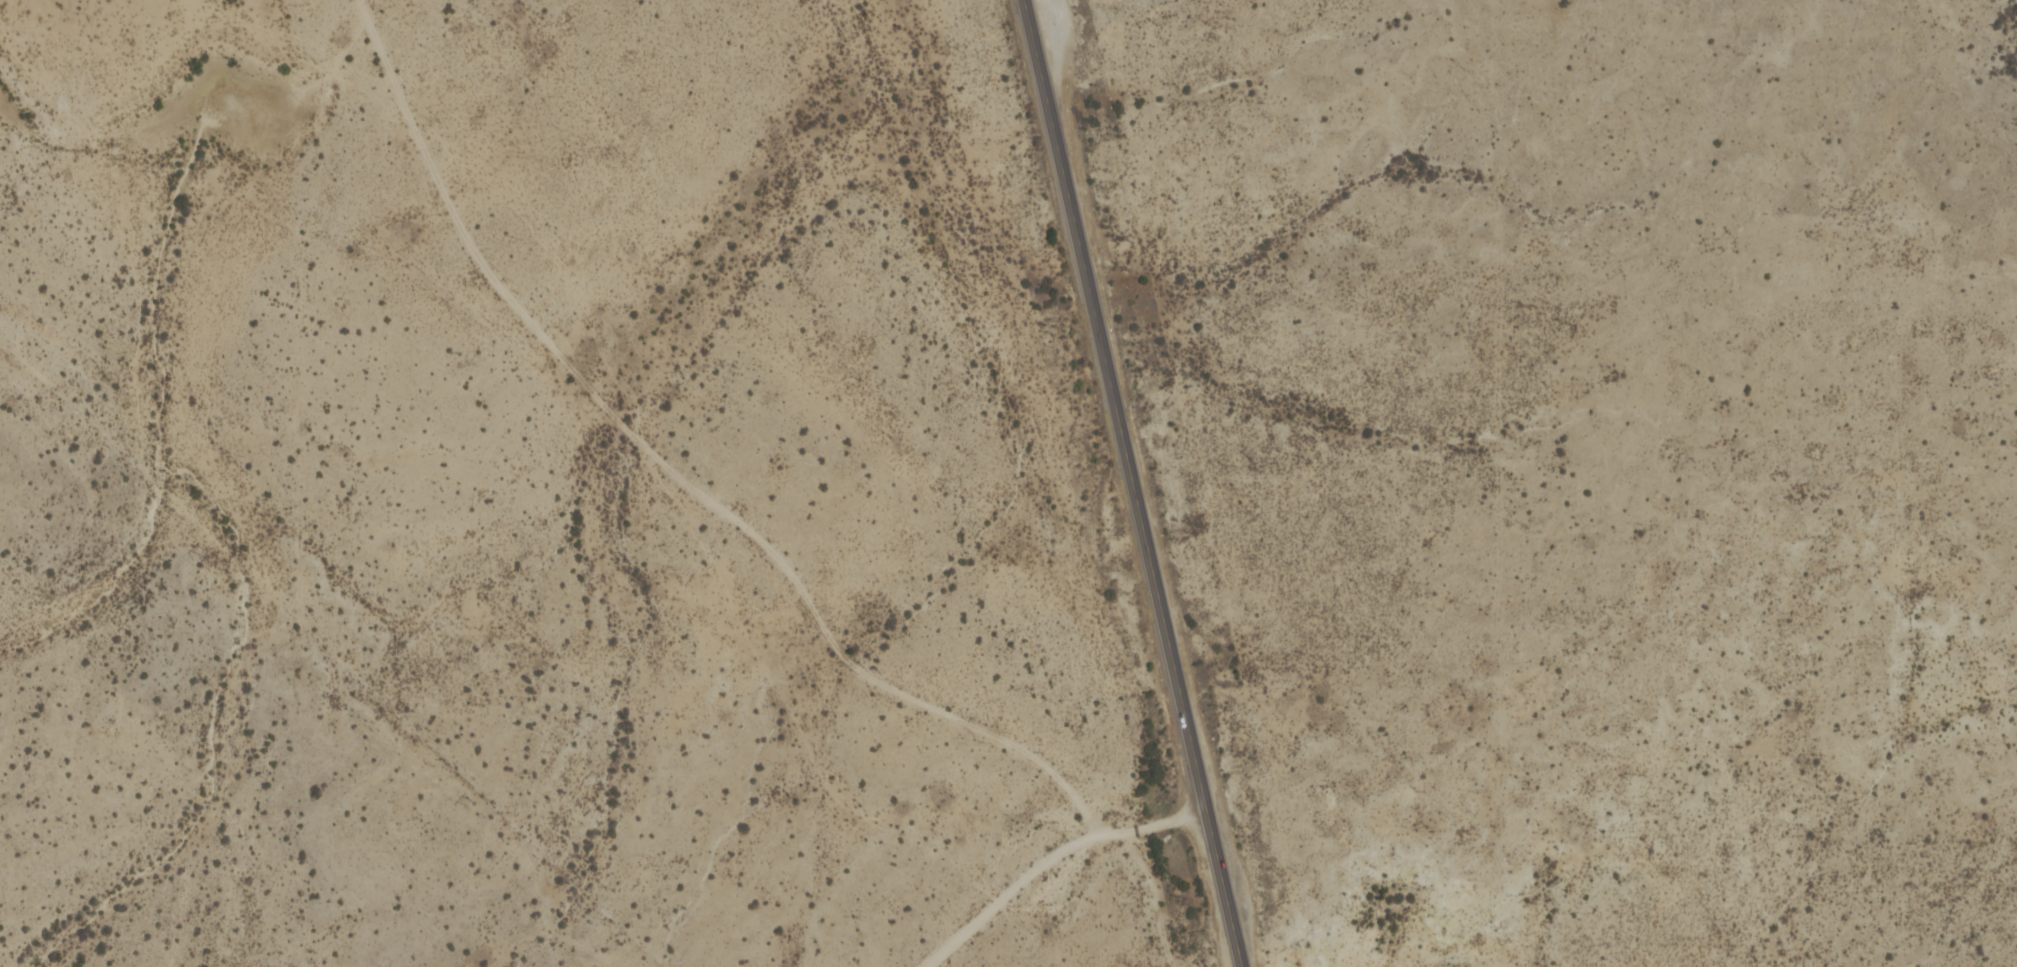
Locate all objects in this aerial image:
road: (1133, 483)
road: (714, 504)
power tower: (202, 549)
power tower: (465, 799)
road: (1006, 892)

